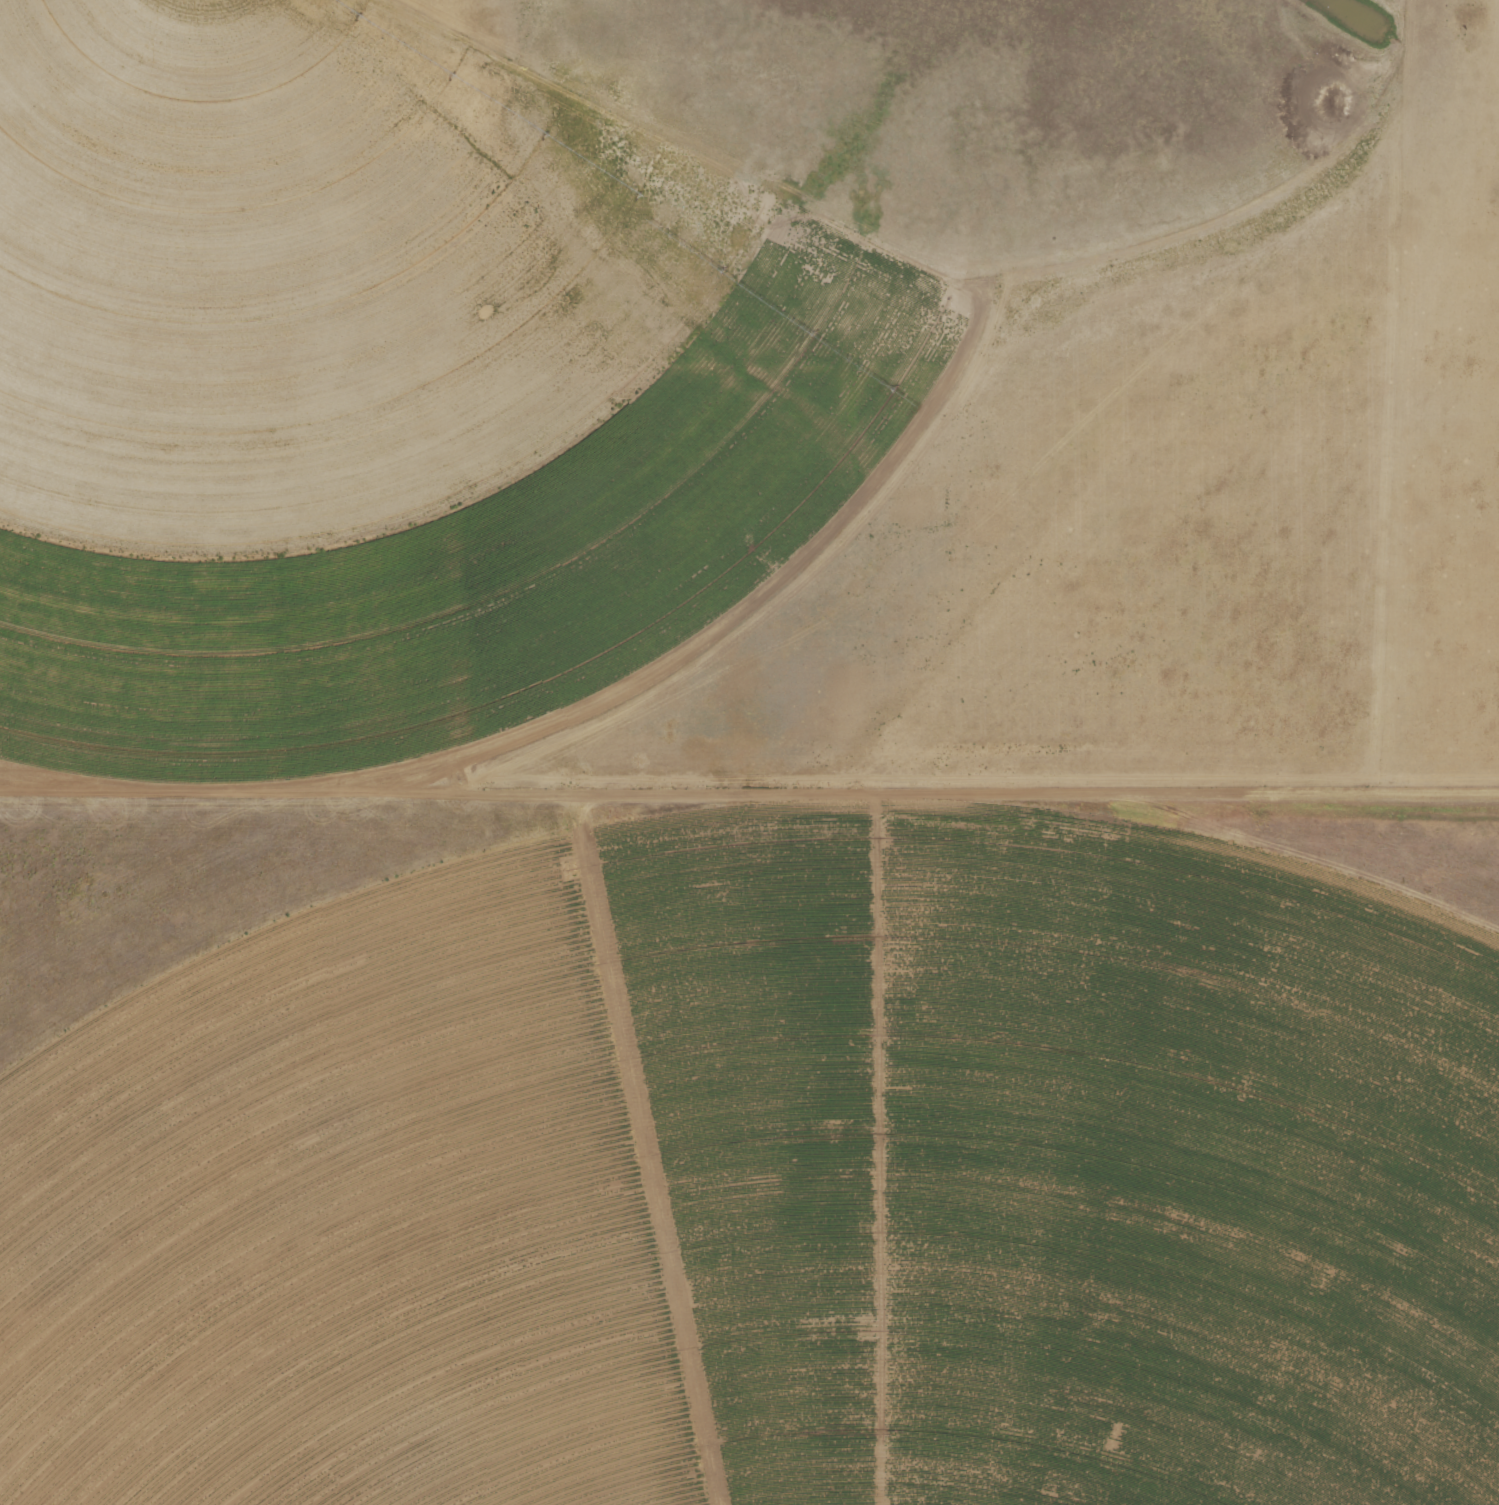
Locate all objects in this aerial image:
road: (749, 785)

